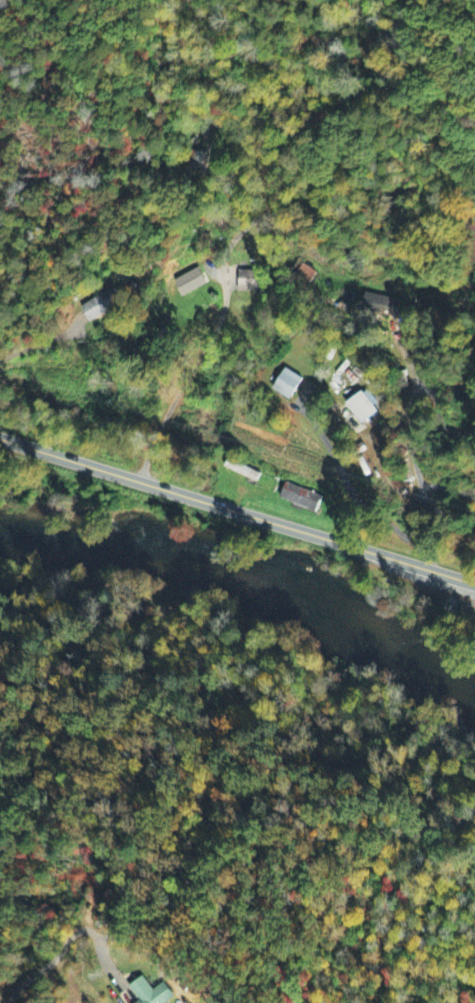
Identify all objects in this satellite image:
building: (200, 163)
building: (249, 283)
building: (189, 284)
road: (225, 289)
building: (101, 306)
building: (380, 306)
building: (287, 385)
building: (362, 408)
road: (410, 432)
building: (241, 472)
building: (300, 498)
road: (237, 511)
river: (251, 573)
building: (151, 992)

